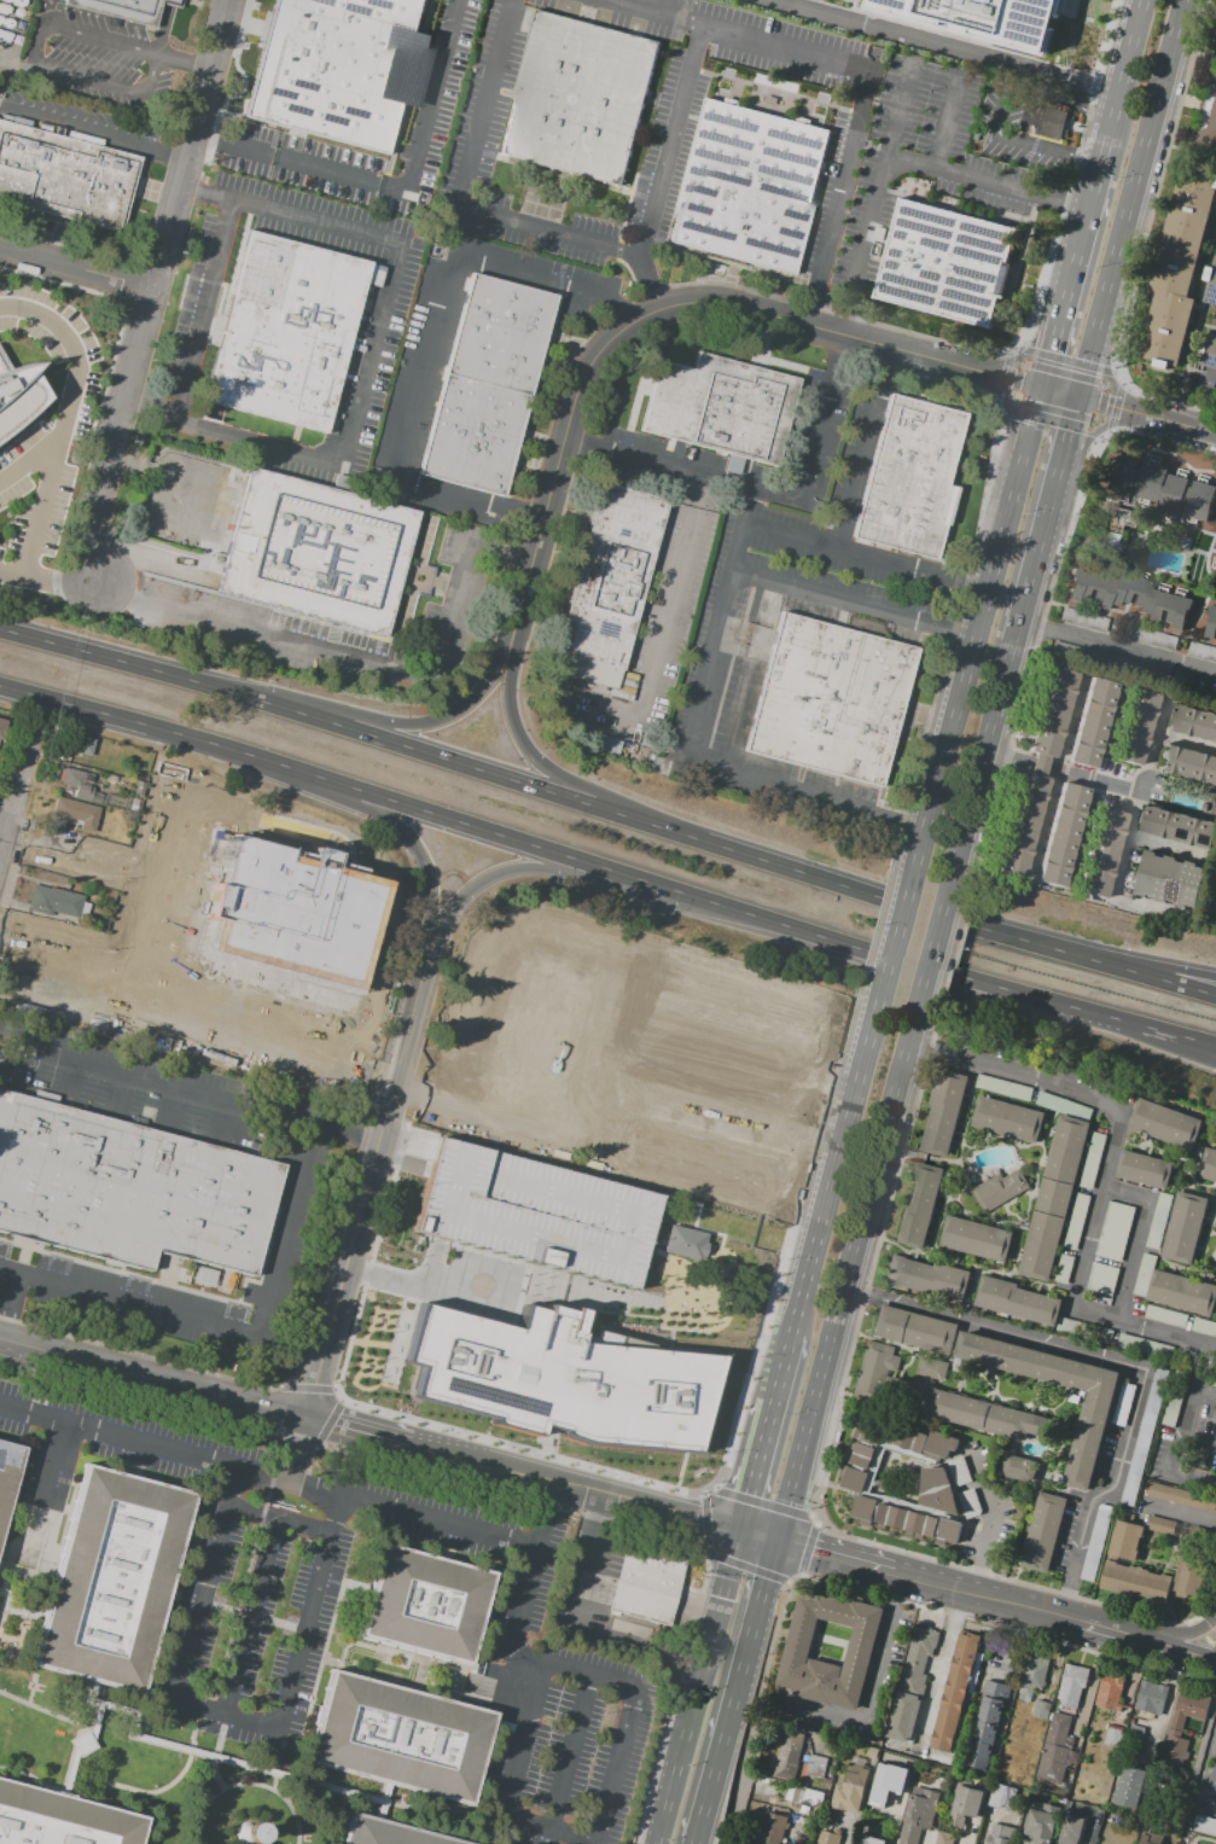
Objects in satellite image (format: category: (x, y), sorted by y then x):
building: (122, 10)
building: (1002, 16)
road: (163, 27)
building: (1215, 35)
road: (952, 42)
road: (1191, 53)
road: (34, 59)
road: (1125, 59)
road: (182, 63)
building: (318, 66)
road: (862, 69)
building: (580, 98)
road: (1002, 111)
building: (1208, 114)
building: (1045, 117)
road: (74, 124)
road: (667, 140)
road: (188, 142)
road: (209, 142)
road: (1104, 144)
road: (168, 146)
road: (1180, 153)
road: (898, 158)
building: (65, 173)
road: (406, 184)
road: (1093, 188)
building: (747, 190)
road: (202, 193)
road: (456, 193)
road: (1129, 198)
road: (314, 223)
road: (1212, 239)
building: (948, 263)
building: (1177, 266)
road: (76, 268)
road: (648, 283)
building: (1211, 285)
road: (1064, 297)
road: (619, 307)
road: (1195, 315)
road: (780, 318)
parking lot: (8, 319)
road: (1205, 325)
building: (287, 330)
road: (427, 336)
road: (1014, 349)
building: (1209, 353)
road: (1066, 359)
road: (999, 376)
road: (1001, 377)
road: (1209, 377)
road: (1117, 378)
building: (487, 385)
traffic signals: (1041, 388)
road: (1060, 392)
parking lot: (1209, 392)
building: (17, 394)
traffic signals: (1081, 397)
road: (996, 405)
road: (1113, 407)
road: (1116, 407)
road: (151, 408)
building: (723, 409)
road: (822, 418)
road: (1049, 421)
road: (1185, 425)
road: (63, 431)
road: (1102, 434)
road: (1071, 436)
road: (117, 438)
road: (257, 444)
road: (860, 446)
road: (30, 459)
road: (681, 469)
building: (1123, 473)
building: (910, 479)
road: (549, 491)
building: (1183, 496)
building: (1113, 528)
road: (790, 534)
building: (318, 552)
road: (1041, 559)
road: (910, 565)
building: (612, 576)
building: (1215, 577)
road: (59, 586)
building: (1128, 595)
road: (853, 604)
building: (1082, 619)
road: (718, 622)
road: (662, 623)
building: (1211, 623)
road: (974, 630)
road: (950, 632)
building: (1153, 640)
road: (1119, 651)
building: (1202, 651)
road: (360, 665)
building: (830, 700)
building: (1193, 722)
building: (1088, 723)
road: (415, 725)
building: (1, 727)
building: (1133, 727)
road: (167, 732)
road: (520, 740)
road: (1186, 740)
building: (77, 743)
building: (603, 744)
building: (95, 751)
road: (1010, 758)
building: (1188, 762)
road: (985, 764)
road: (1037, 766)
building: (139, 769)
building: (1034, 772)
building: (138, 775)
building: (111, 778)
road: (1055, 779)
road: (1092, 780)
building: (77, 784)
building: (136, 787)
road: (803, 791)
road: (554, 792)
building: (97, 797)
road: (18, 799)
building: (76, 813)
building: (1180, 825)
road: (4, 836)
building: (1058, 836)
road: (1127, 838)
road: (413, 844)
road: (1166, 848)
building: (1099, 854)
road: (535, 867)
building: (1170, 879)
building: (56, 901)
building: (291, 911)
road: (772, 921)
road: (873, 924)
road: (896, 938)
road: (938, 952)
road: (1162, 968)
road: (1162, 979)
building: (174, 983)
building: (741, 1000)
road: (171, 1025)
building: (536, 1034)
road: (1181, 1042)
road: (151, 1076)
road: (71, 1078)
building: (1003, 1088)
road: (120, 1092)
road: (173, 1105)
building: (1063, 1105)
road: (1117, 1106)
building: (943, 1112)
road: (850, 1113)
road: (227, 1118)
building: (1007, 1119)
building: (1165, 1124)
road: (348, 1128)
road: (372, 1159)
building: (1092, 1161)
building: (698, 1165)
building: (1209, 1167)
building: (1144, 1170)
building: (85, 1182)
building: (999, 1189)
building: (1053, 1197)
building: (920, 1208)
building: (222, 1209)
building: (533, 1212)
parking lot: (533, 1212)
building: (1158, 1221)
building: (1076, 1222)
building: (1215, 1225)
building: (1185, 1227)
building: (1113, 1231)
building: (976, 1239)
road: (1135, 1239)
building: (681, 1241)
road: (786, 1249)
building: (1063, 1269)
building: (1144, 1275)
building: (927, 1278)
building: (1101, 1279)
road: (853, 1280)
road: (424, 1285)
road: (804, 1293)
building: (1181, 1293)
building: (1017, 1302)
building: (1165, 1317)
building: (1065, 1325)
building: (1203, 1327)
road: (1144, 1328)
building: (913, 1330)
building: (1104, 1336)
road: (238, 1337)
building: (1145, 1346)
road: (111, 1365)
road: (1127, 1365)
building: (929, 1367)
building: (875, 1371)
building: (557, 1379)
road: (309, 1395)
road: (1205, 1398)
road: (263, 1403)
building: (1123, 1404)
building: (1173, 1407)
road: (1191, 1410)
road: (343, 1412)
building: (976, 1414)
road: (354, 1427)
road: (118, 1433)
building: (1145, 1437)
building: (1088, 1439)
road: (1199, 1443)
road: (411, 1444)
building: (942, 1444)
road: (763, 1447)
road: (447, 1452)
road: (54, 1464)
building: (1019, 1468)
building: (859, 1471)
road: (291, 1472)
building: (960, 1472)
building: (7, 1473)
road: (1195, 1478)
road: (558, 1481)
building: (64, 1485)
building: (937, 1491)
building: (859, 1495)
building: (1182, 1497)
road: (761, 1501)
building: (970, 1503)
road: (252, 1511)
road: (688, 1516)
building: (907, 1522)
road: (994, 1524)
traffic signals: (739, 1531)
building: (1043, 1534)
road: (758, 1537)
traffic signals: (778, 1543)
building: (1096, 1543)
road: (807, 1549)
road: (716, 1557)
road: (834, 1559)
building: (1111, 1560)
building: (1193, 1563)
building: (112, 1578)
building: (646, 1578)
road: (982, 1595)
building: (424, 1605)
road: (517, 1618)
road: (776, 1625)
road: (1099, 1627)
road: (1174, 1634)
building: (798, 1642)
building: (921, 1642)
road: (302, 1644)
road: (1171, 1646)
road: (891, 1650)
building: (1032, 1674)
road: (939, 1675)
building: (913, 1676)
building: (1072, 1685)
road: (699, 1687)
building: (1109, 1691)
road: (735, 1692)
building: (955, 1692)
road: (1087, 1695)
building: (1151, 1697)
road: (179, 1698)
road: (40, 1708)
building: (1040, 1708)
building: (1188, 1708)
building: (901, 1716)
building: (984, 1727)
road: (192, 1728)
building: (1131, 1737)
building: (398, 1738)
building: (789, 1743)
building: (1174, 1747)
road: (215, 1749)
building: (1053, 1750)
building: (871, 1752)
road: (745, 1756)
road: (225, 1761)
building: (941, 1761)
building: (784, 1764)
building: (816, 1767)
building: (1088, 1767)
road: (1204, 1770)
building: (1212, 1775)
road: (243, 1782)
building: (886, 1782)
building: (1129, 1786)
road: (138, 1790)
building: (850, 1791)
building: (1002, 1796)
building: (804, 1797)
building: (966, 1803)
building: (805, 1811)
building: (919, 1814)
building: (818, 1816)
building: (60, 1820)
building: (875, 1820)
building: (1040, 1823)
building: (1204, 1826)
building: (772, 1827)
road: (526, 1831)
building: (1072, 1831)
water tower: (248, 1833)
building: (384, 1833)
building: (889, 1833)
building: (1001, 1834)
building: (868, 1837)
building: (944, 1837)
building: (828, 1838)
building: (1144, 1839)

